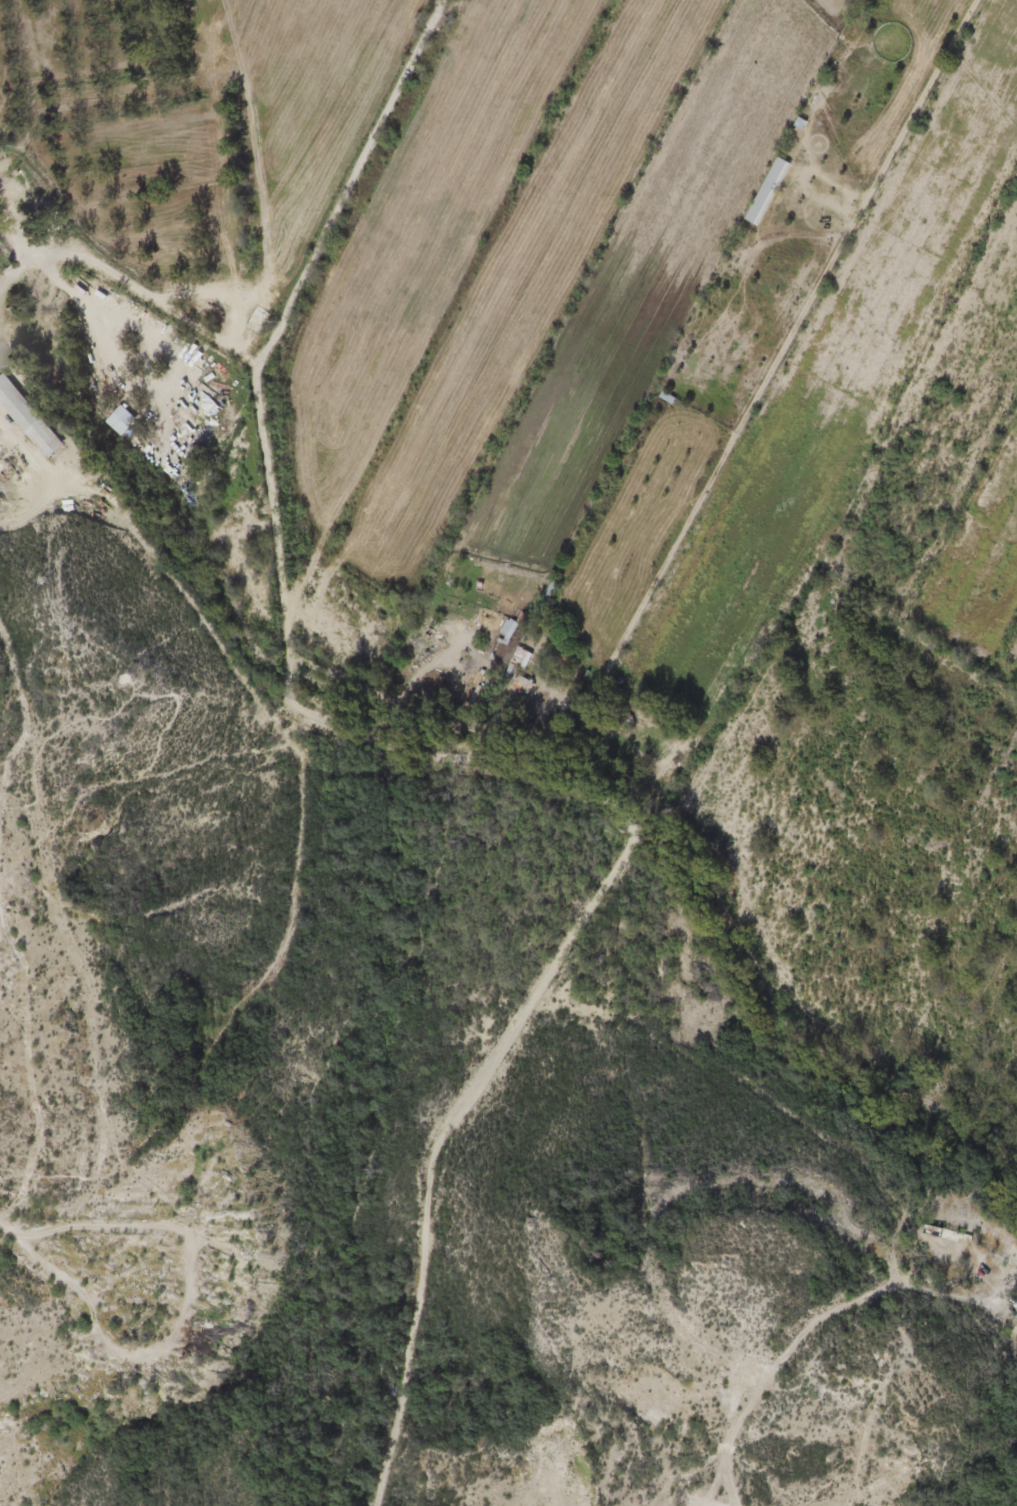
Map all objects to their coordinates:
road: (352, 183)

